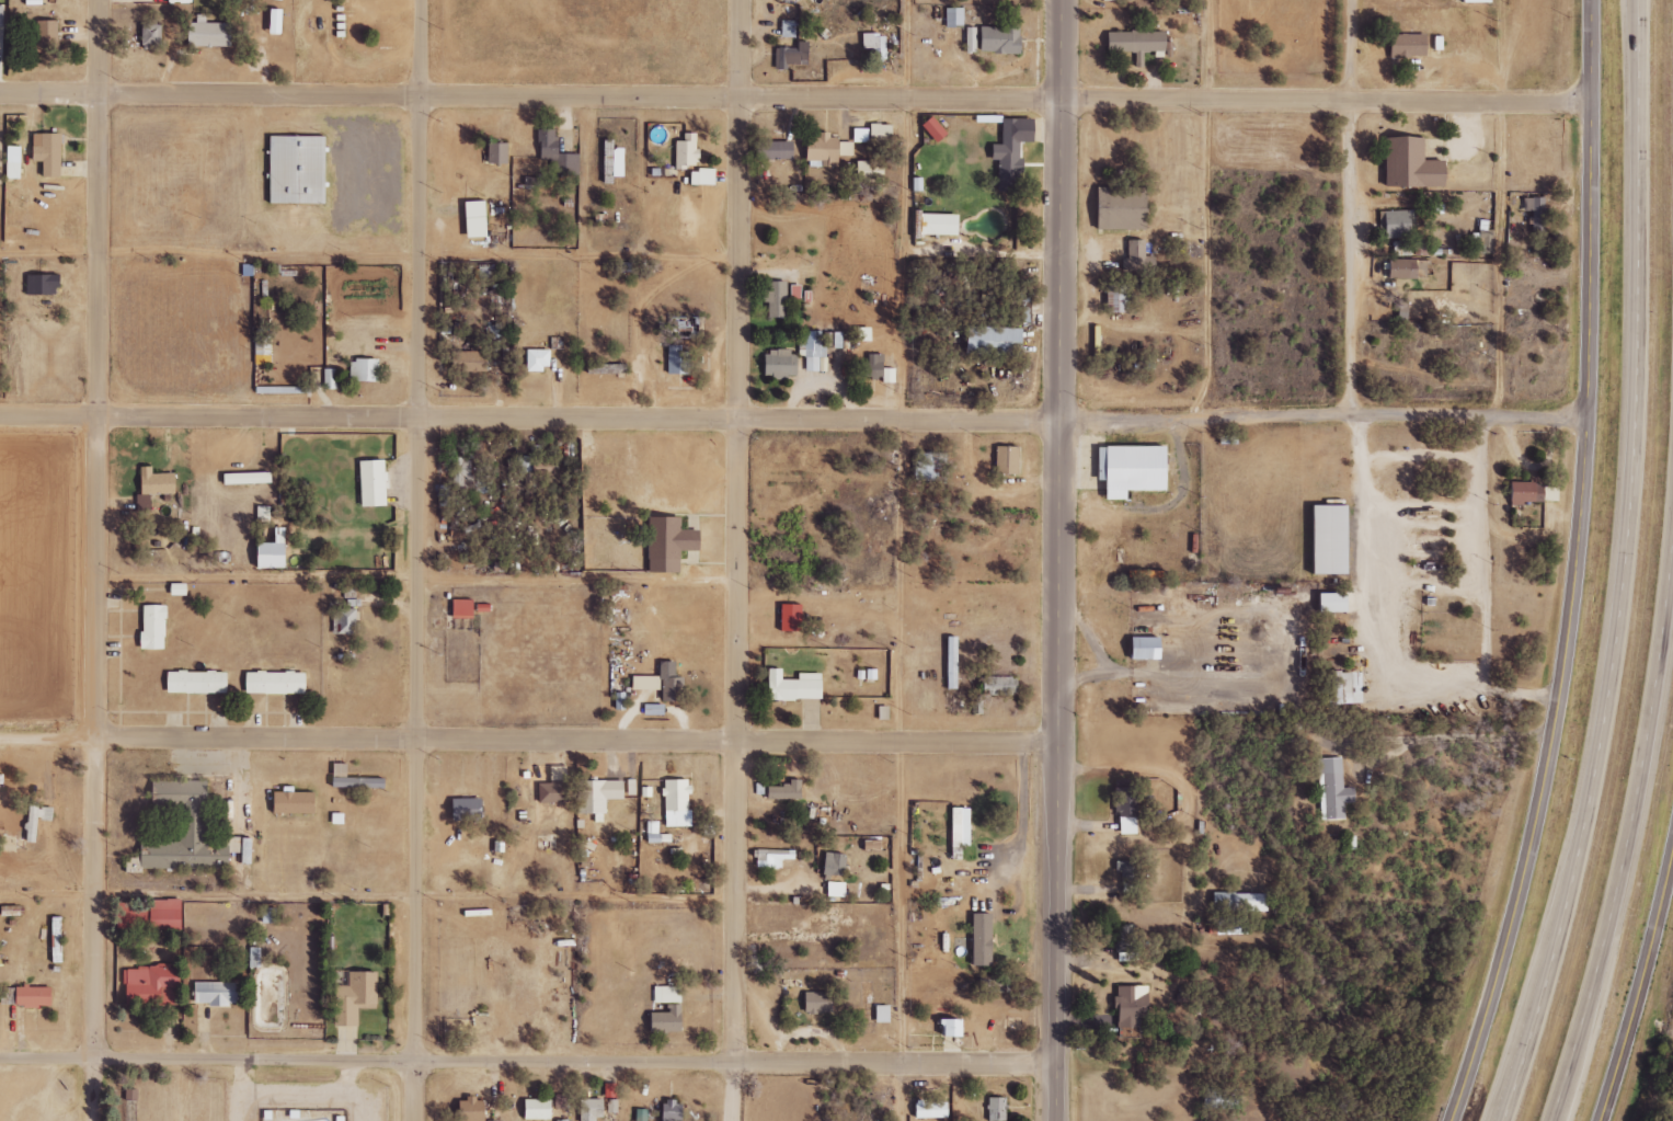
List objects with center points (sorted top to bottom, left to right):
building: (1112, 0)
building: (1486, 2)
building: (1, 15)
building: (954, 18)
building: (278, 21)
building: (789, 28)
building: (210, 33)
building: (152, 36)
building: (46, 37)
building: (1001, 38)
building: (972, 39)
building: (875, 43)
building: (1138, 43)
building: (1418, 48)
building: (792, 55)
road: (795, 98)
road: (906, 126)
building: (937, 129)
building: (882, 133)
building: (861, 135)
building: (776, 149)
building: (828, 149)
building: (688, 151)
building: (1013, 151)
building: (49, 153)
building: (500, 153)
building: (557, 153)
building: (615, 161)
building: (14, 162)
building: (1420, 164)
building: (299, 170)
building: (871, 171)
building: (703, 176)
building: (535, 181)
road: (1350, 205)
road: (1510, 206)
building: (1124, 208)
building: (477, 209)
road: (1218, 209)
building: (1535, 214)
building: (1396, 224)
building: (941, 225)
building: (1401, 249)
building: (1138, 258)
building: (1409, 268)
building: (45, 284)
building: (797, 291)
building: (1119, 298)
building: (777, 299)
building: (492, 331)
building: (997, 341)
building: (264, 350)
building: (539, 359)
building: (678, 361)
building: (472, 362)
building: (781, 364)
building: (605, 366)
building: (872, 367)
building: (366, 369)
building: (331, 378)
road: (792, 417)
building: (1009, 460)
building: (929, 465)
building: (519, 469)
building: (1135, 469)
building: (545, 471)
building: (249, 478)
building: (375, 483)
building: (156, 487)
building: (454, 489)
building: (1534, 495)
building: (1333, 539)
building: (672, 544)
building: (274, 556)
road: (99, 560)
road: (417, 560)
road: (738, 560)
road: (1058, 560)
road: (1574, 568)
road: (1636, 569)
road: (419, 583)
building: (180, 590)
building: (1336, 603)
building: (463, 608)
building: (345, 615)
building: (154, 627)
building: (1149, 648)
building: (198, 682)
building: (277, 683)
building: (1000, 685)
building: (797, 687)
building: (1344, 687)
building: (672, 689)
building: (655, 709)
road: (528, 740)
road: (910, 770)
building: (354, 778)
building: (1333, 788)
building: (786, 790)
building: (553, 791)
building: (598, 794)
building: (296, 802)
building: (677, 802)
building: (469, 809)
building: (1127, 810)
building: (339, 817)
building: (37, 819)
building: (962, 826)
building: (188, 831)
building: (874, 845)
building: (248, 850)
building: (774, 857)
building: (833, 863)
building: (1128, 874)
road: (1624, 877)
building: (837, 889)
road: (368, 899)
building: (1241, 902)
building: (270, 914)
building: (159, 915)
building: (1228, 926)
building: (58, 931)
building: (985, 939)
building: (1127, 947)
building: (254, 954)
road: (1639, 983)
building: (151, 985)
building: (995, 988)
building: (218, 993)
building: (35, 996)
building: (355, 996)
building: (818, 1002)
building: (1133, 1008)
building: (669, 1009)
building: (884, 1014)
building: (956, 1027)
road: (527, 1061)
road: (1509, 1086)
building: (131, 1094)
park: (117, 1095)
building: (612, 1096)
building: (1223, 1098)
building: (561, 1101)
building: (540, 1109)
building: (593, 1109)
building: (933, 1109)
building: (997, 1109)
building: (473, 1110)
building: (642, 1114)
building: (277, 1116)

